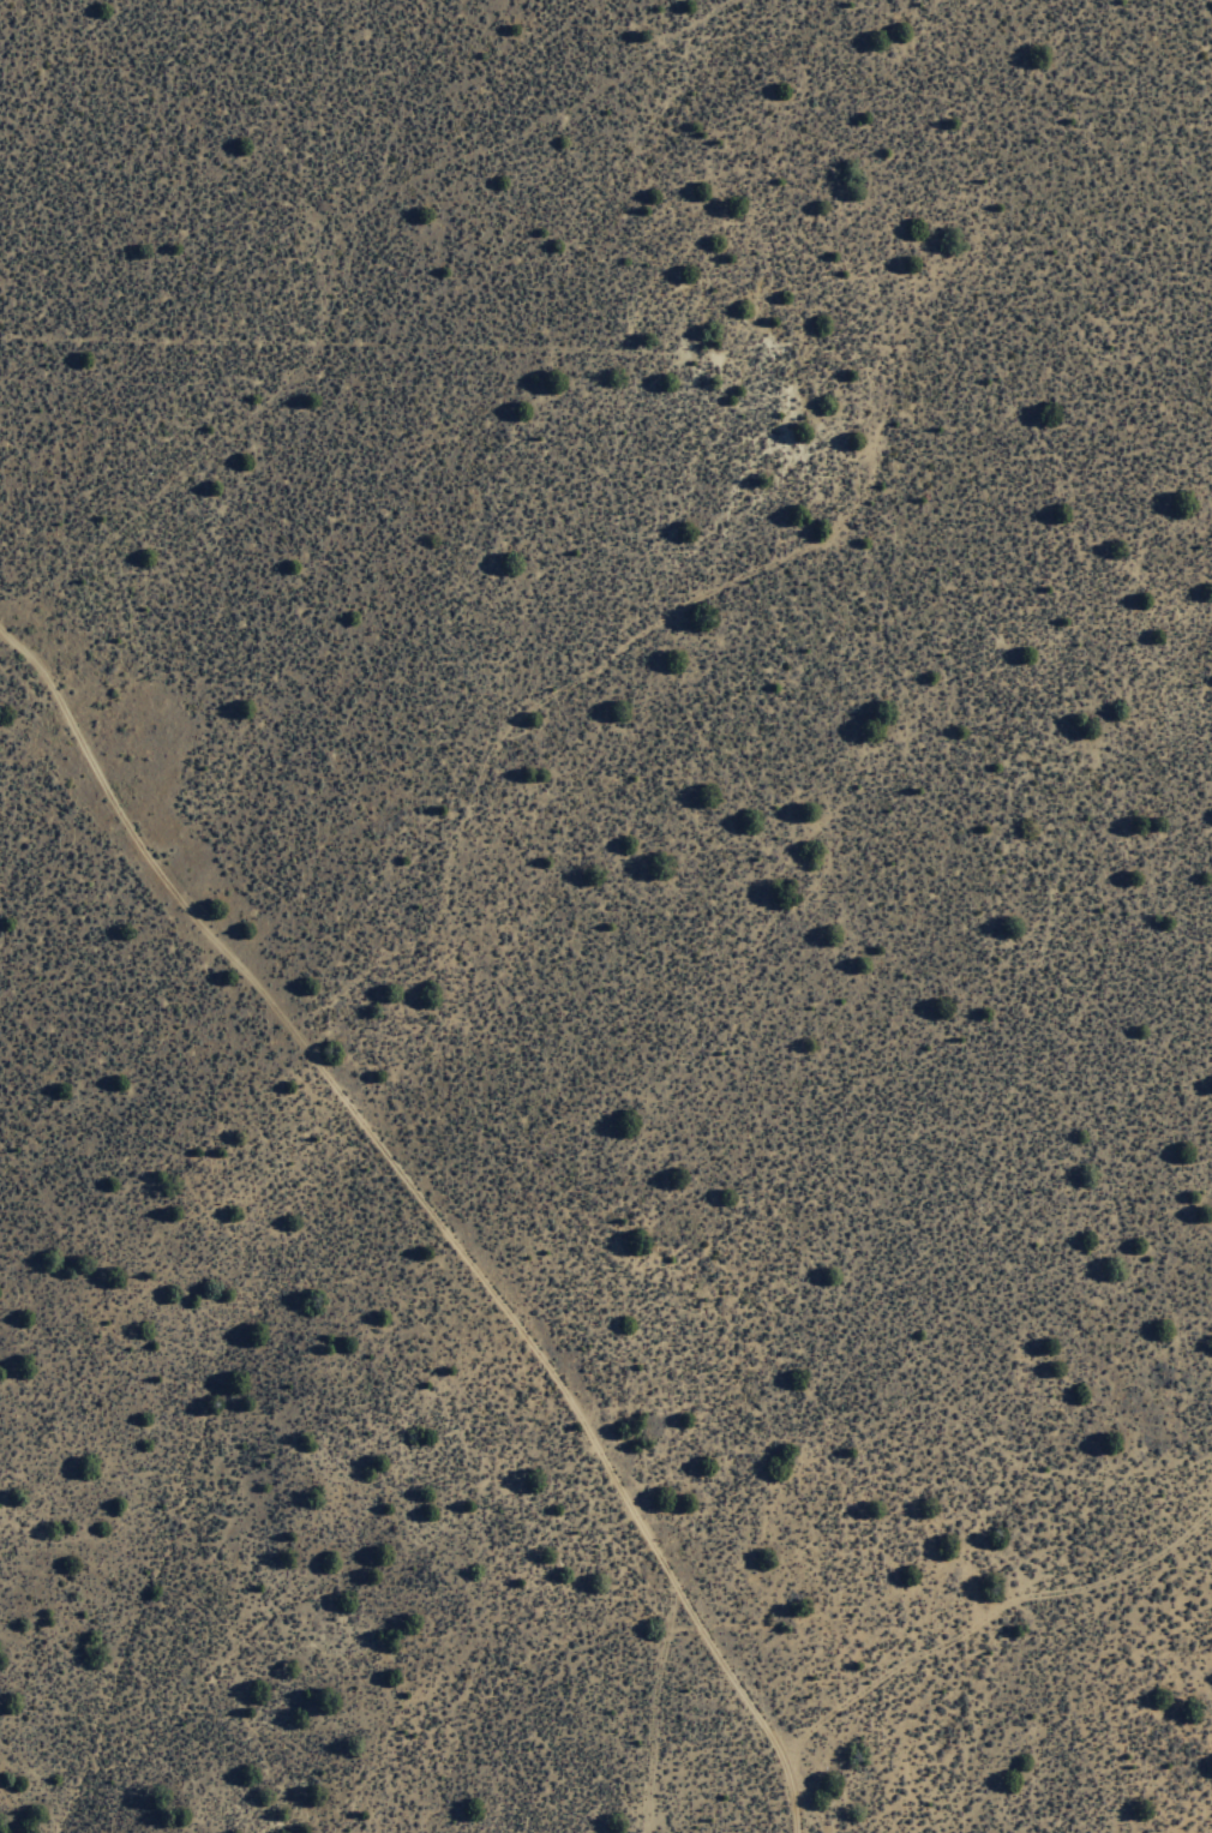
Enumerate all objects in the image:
road: (442, 1200)
road: (996, 1611)

